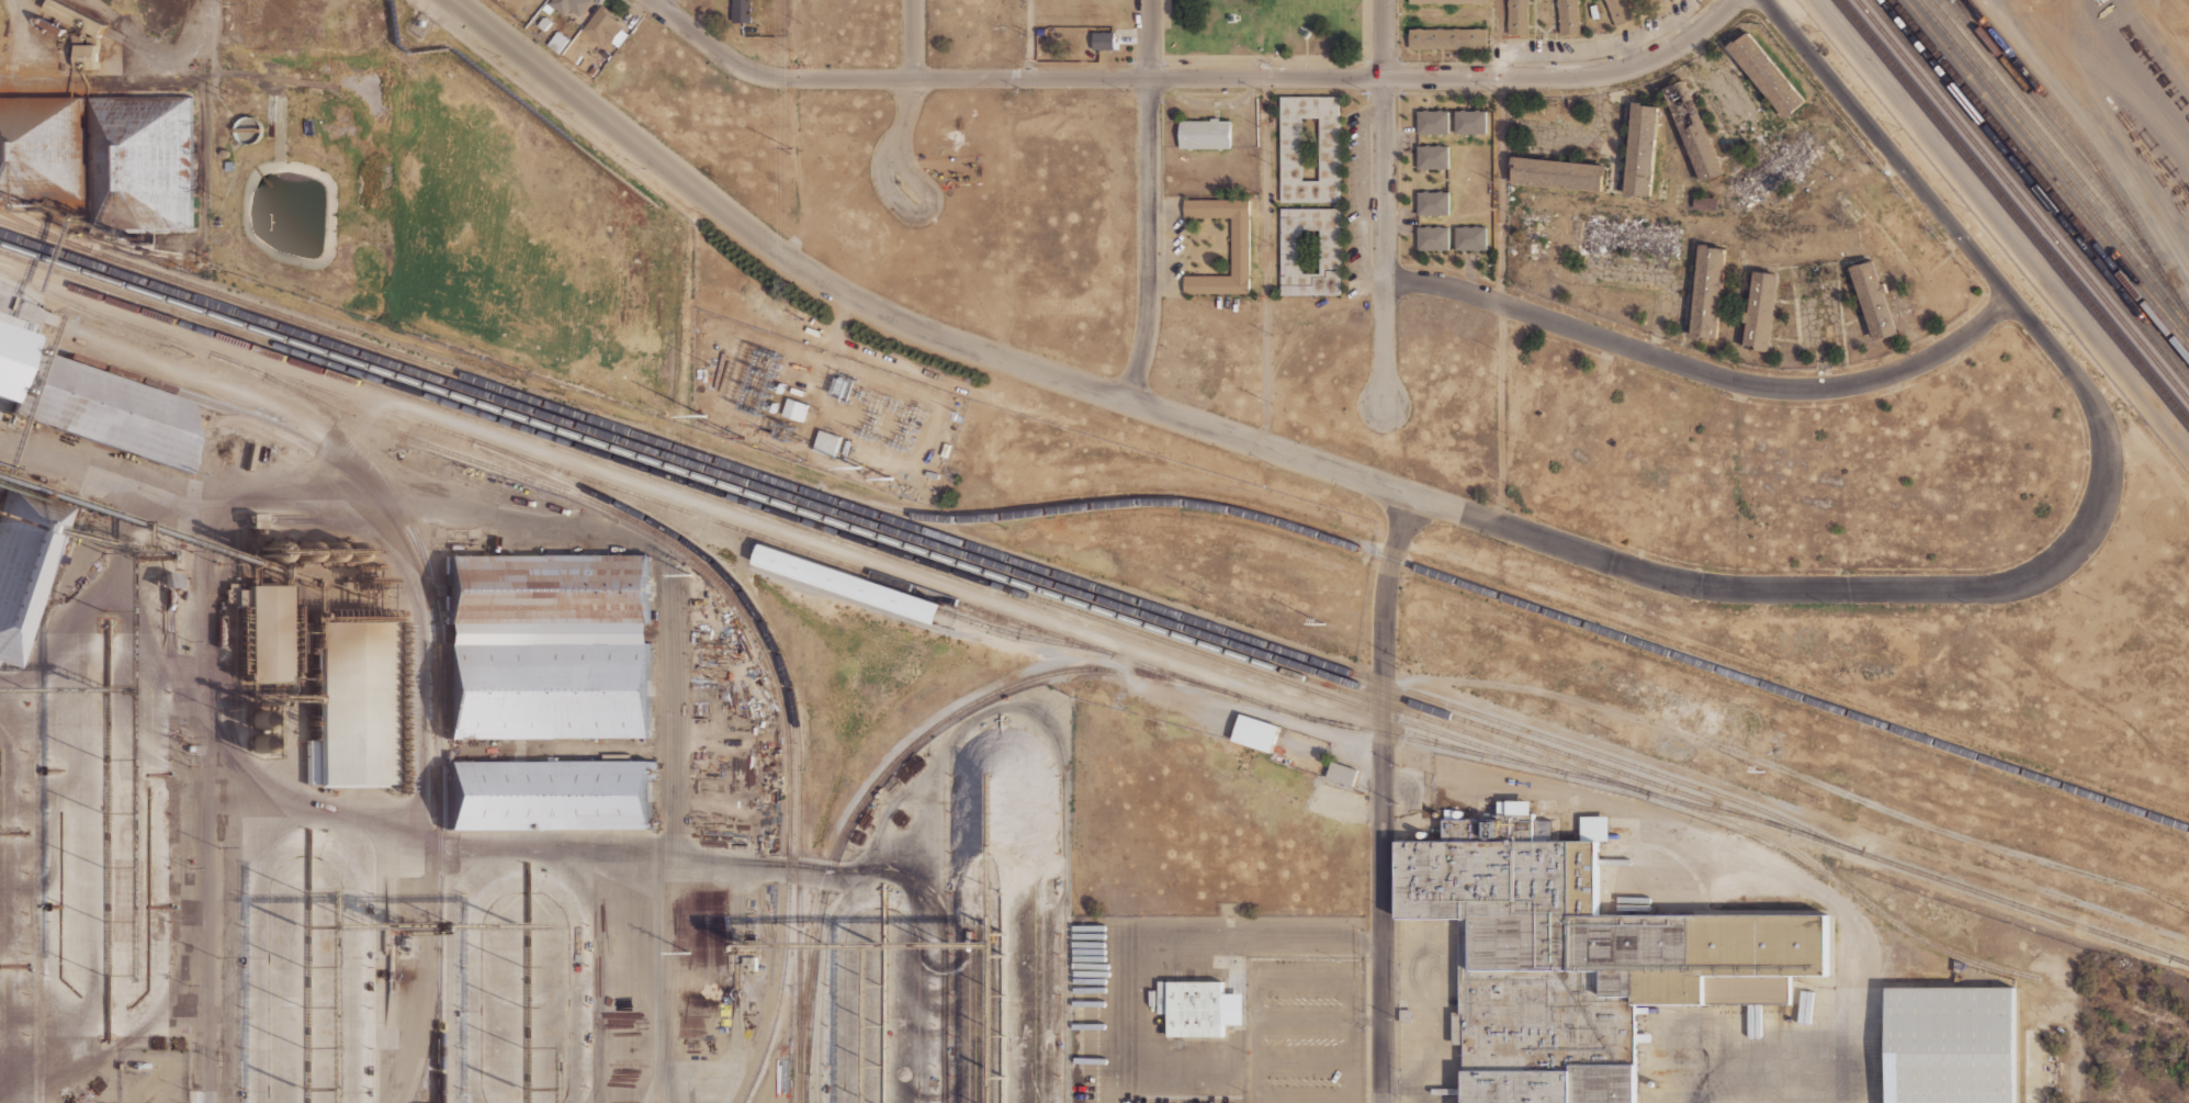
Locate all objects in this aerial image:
building: (1684, 0)
building: (1448, 1)
building: (571, 5)
building: (546, 9)
building: (742, 10)
building: (1620, 11)
building: (1568, 15)
building: (77, 16)
building: (1517, 16)
building: (544, 23)
building: (52, 25)
building: (606, 29)
park: (1262, 33)
road: (793, 38)
road: (1379, 38)
building: (1448, 38)
road: (1027, 40)
road: (1148, 40)
building: (1103, 41)
building: (557, 42)
building: (88, 57)
road: (1261, 63)
road: (911, 76)
building: (1767, 76)
road: (887, 78)
road: (1264, 78)
road: (1568, 78)
railway: (2030, 94)
building: (1473, 123)
building: (245, 124)
railway: (2042, 124)
building: (1433, 125)
building: (1691, 130)
road: (2089, 131)
building: (1205, 134)
building: (42, 147)
building: (1309, 149)
building: (1640, 149)
railway: (2051, 149)
railway: (2087, 153)
building: (1430, 159)
building: (142, 165)
railway: (2052, 165)
railway: (2045, 172)
building: (1557, 173)
railway: (2040, 179)
railway: (2033, 187)
road: (1497, 190)
railway: (2028, 193)
railway: (2021, 201)
building: (1430, 203)
building: (1704, 203)
railway: (2012, 212)
road: (916, 213)
railway: (43, 230)
building: (1431, 235)
building: (1473, 236)
road: (1380, 238)
road: (1150, 241)
building: (1239, 246)
road: (1966, 248)
building: (1309, 251)
road: (1262, 261)
railway: (140, 290)
building: (1708, 293)
building: (1874, 300)
building: (1761, 311)
building: (10, 361)
road: (1702, 370)
power tower: (827, 383)
building: (796, 409)
power substation: (822, 409)
building: (110, 410)
power tower: (704, 415)
railway: (262, 419)
road: (1234, 437)
power tower: (743, 439)
building: (827, 442)
power tower: (859, 468)
power tower: (892, 479)
railway: (738, 511)
railway: (781, 515)
railway: (933, 532)
railway: (808, 553)
building: (25, 565)
power tower: (690, 574)
building: (849, 584)
railway: (1034, 589)
railway: (1093, 598)
railway: (732, 599)
railway: (1512, 599)
building: (237, 615)
railway: (967, 622)
power tower: (1323, 623)
building: (268, 630)
building: (548, 645)
railway: (439, 674)
railway: (787, 684)
building: (357, 704)
building: (1255, 732)
railway: (906, 747)
power tower: (1762, 770)
building: (1343, 773)
road: (1799, 777)
building: (550, 796)
road: (1384, 797)
road: (1796, 815)
railway: (1842, 887)
power tower: (689, 952)
building: (1584, 957)
railway: (2180, 959)
railway: (390, 963)
building: (1161, 997)
building: (1233, 1010)
building: (1196, 1011)
railway: (431, 1026)
parking lot: (1304, 1029)
building: (1952, 1044)
power substation: (154, 1076)

